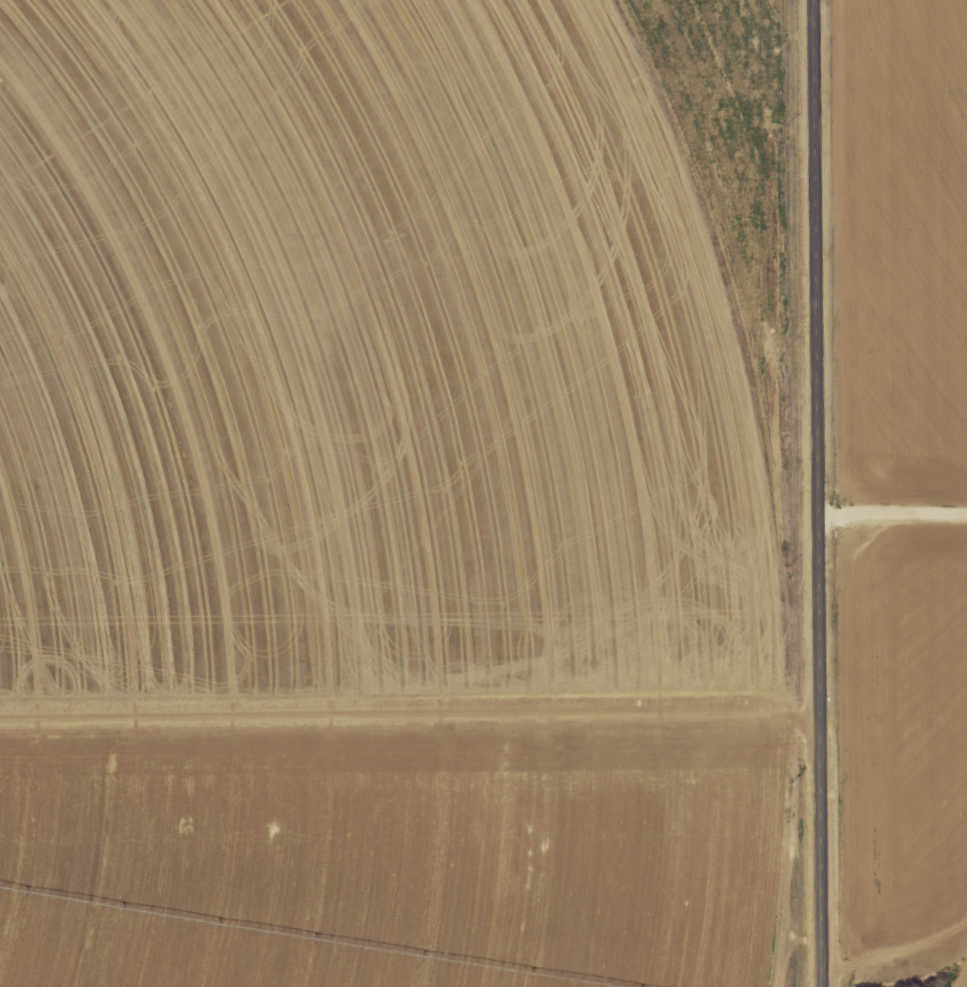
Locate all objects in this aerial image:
road: (817, 493)
road: (7, 986)

